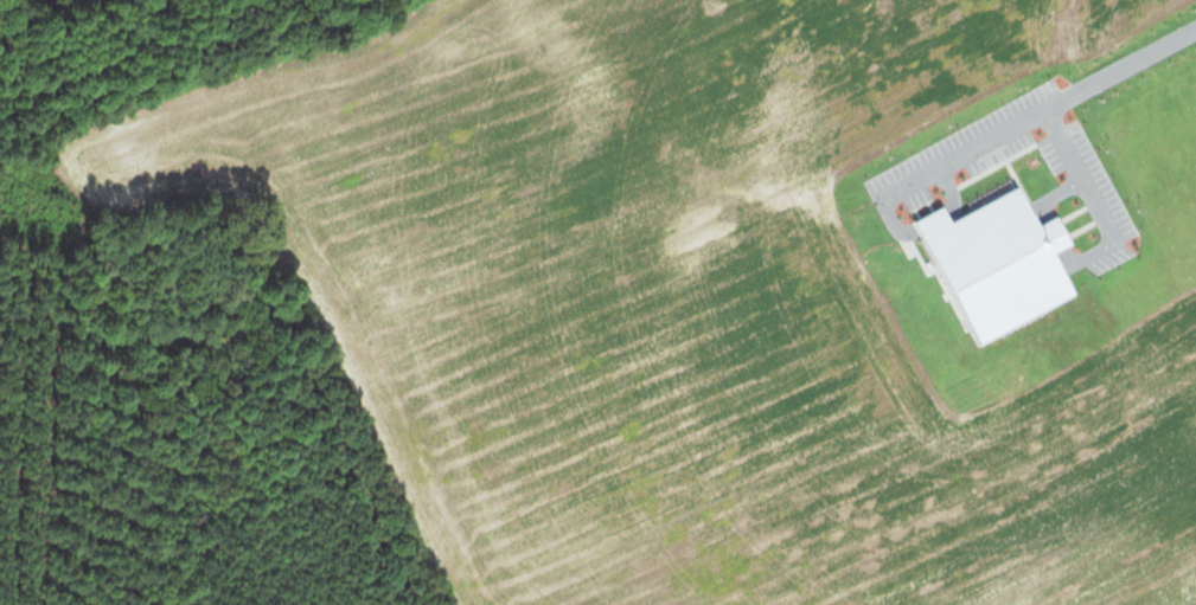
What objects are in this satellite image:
road: (1042, 108)
road: (1069, 165)

